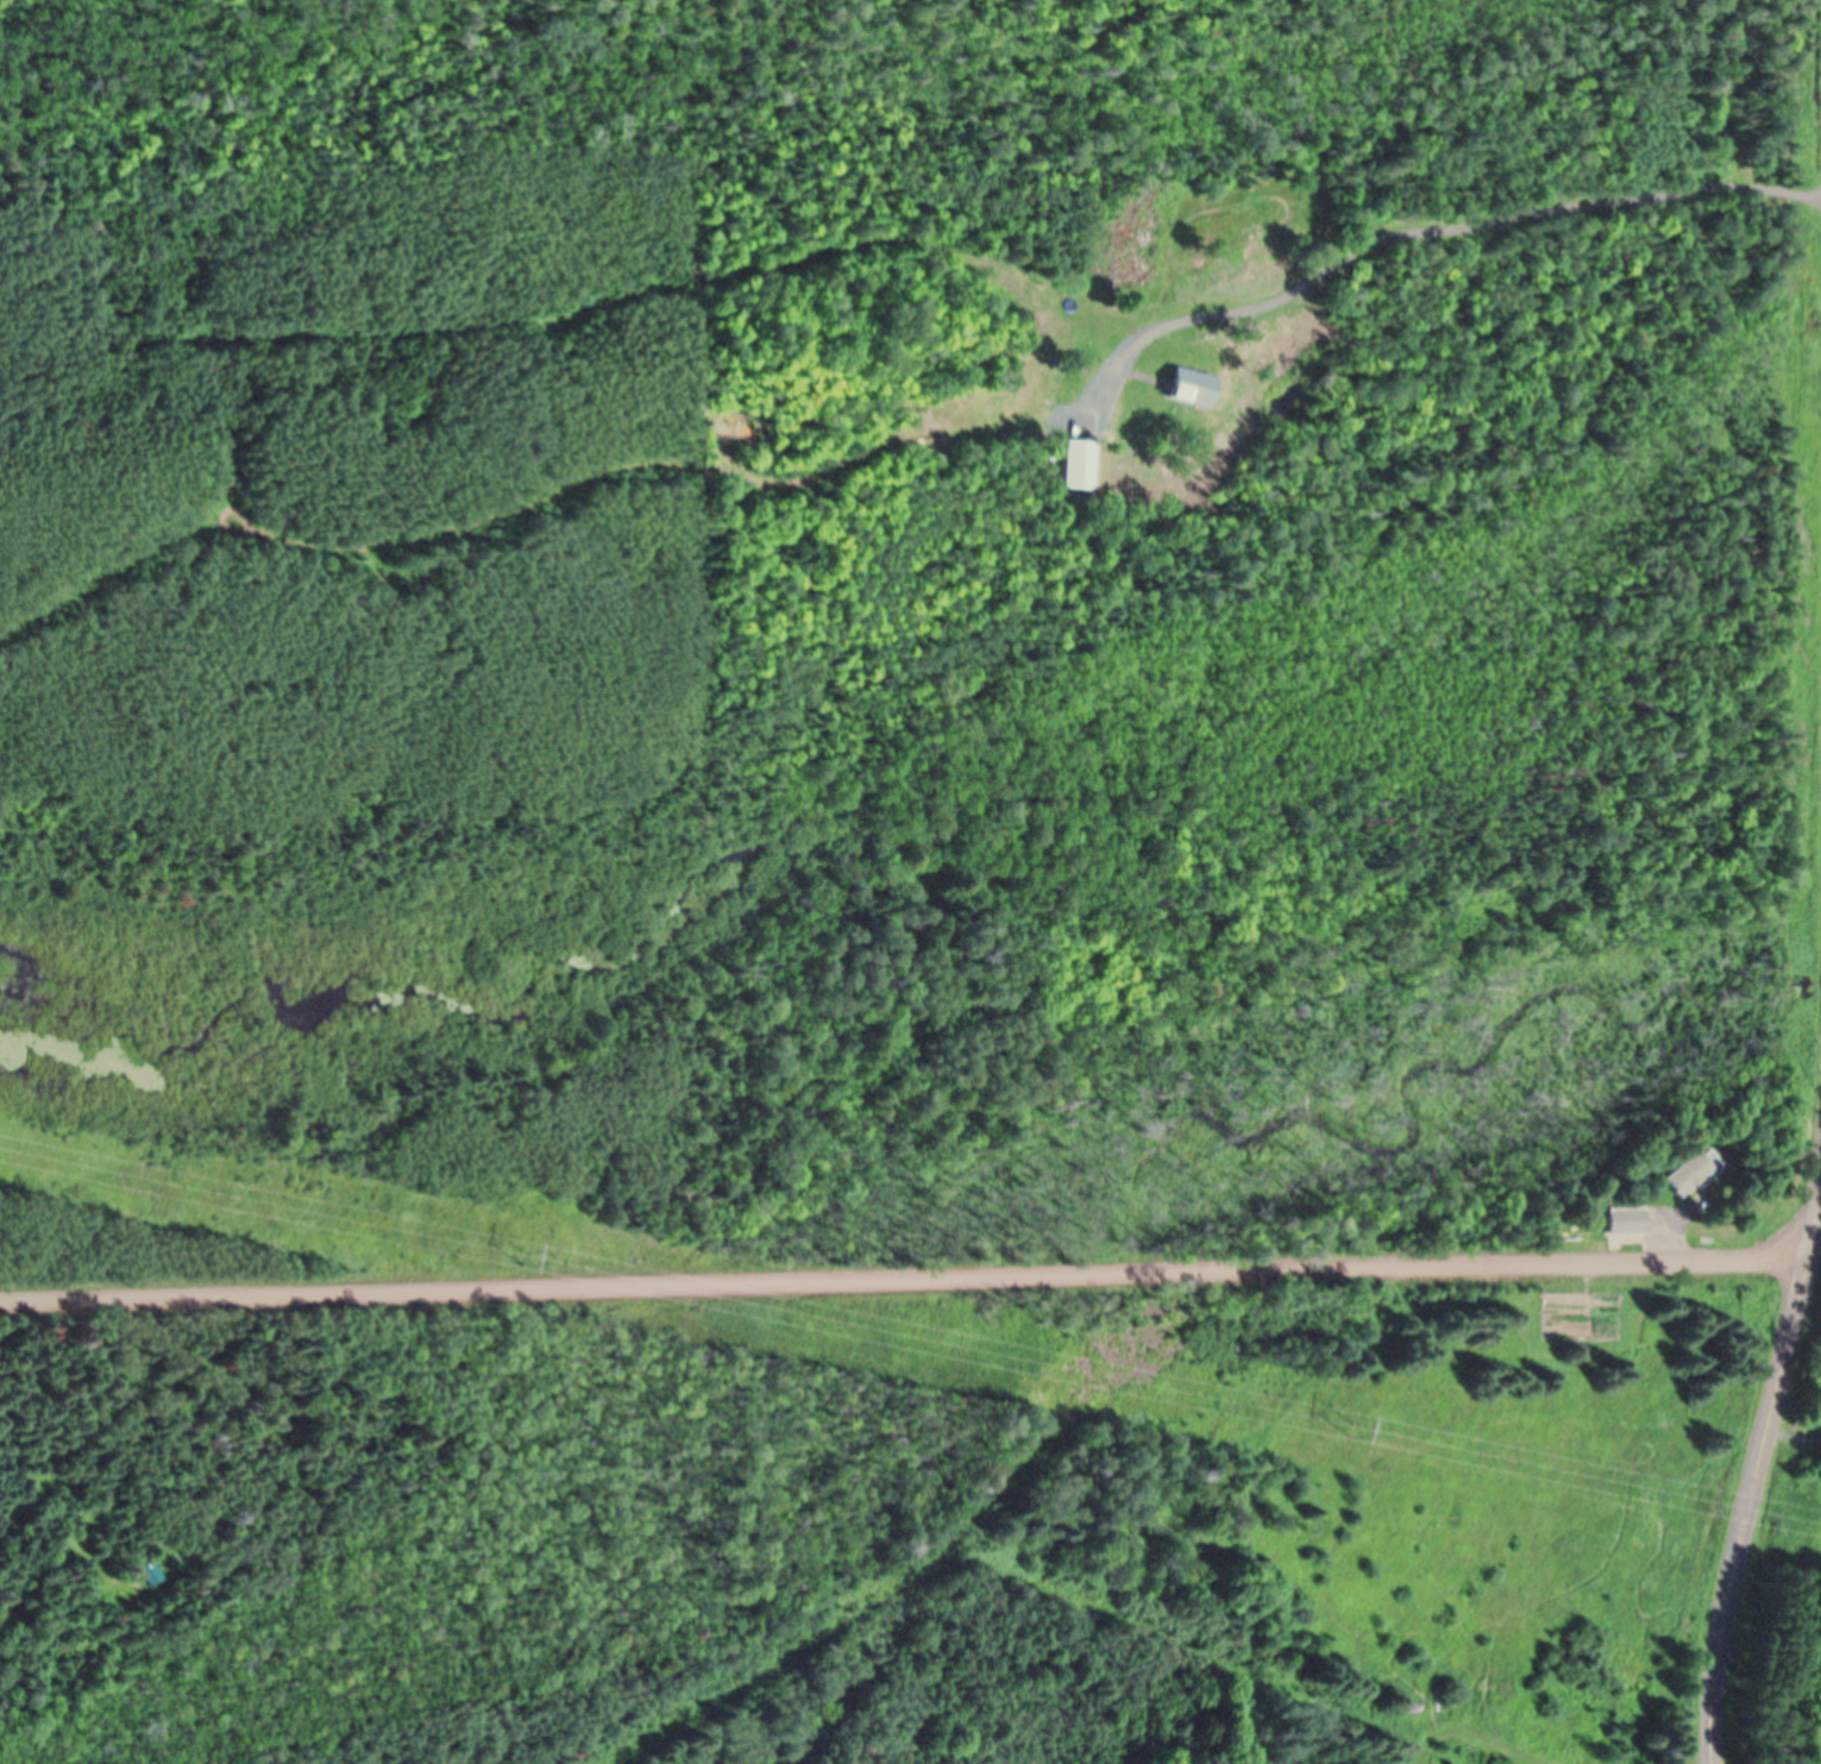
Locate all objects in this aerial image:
building: (1694, 1175)
building: (1630, 1224)
road: (905, 1280)
road: (1756, 1484)

